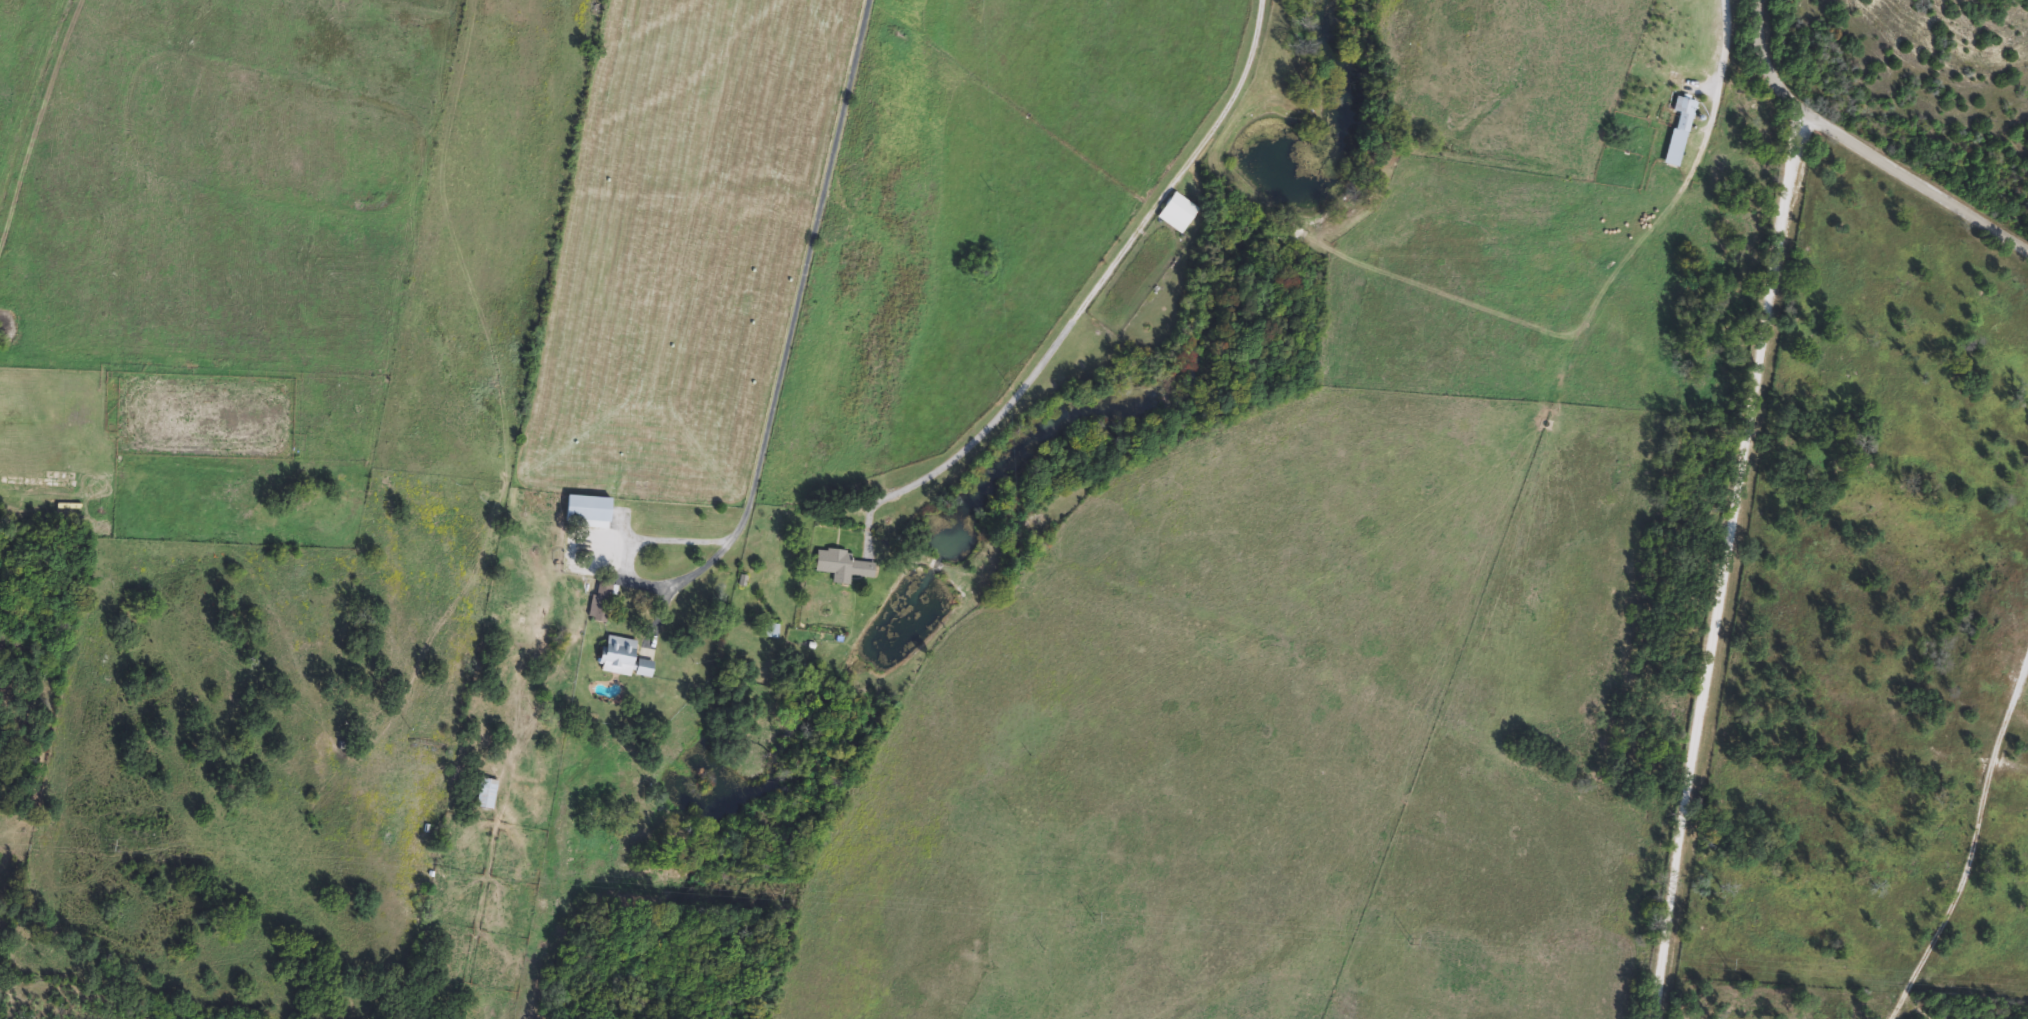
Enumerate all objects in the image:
road: (1721, 41)
building: (1677, 132)
road: (1860, 151)
building: (1174, 213)
road: (805, 269)
road: (1109, 272)
building: (583, 510)
road: (693, 540)
building: (838, 566)
road: (1724, 567)
building: (599, 602)
building: (766, 631)
building: (614, 655)
building: (639, 668)
road: (2018, 715)
building: (483, 794)
road: (1972, 846)
power tower: (113, 853)
power tower: (439, 878)
power tower: (786, 908)
power tower: (1092, 928)
power tower: (1410, 949)
power tower: (1691, 967)

